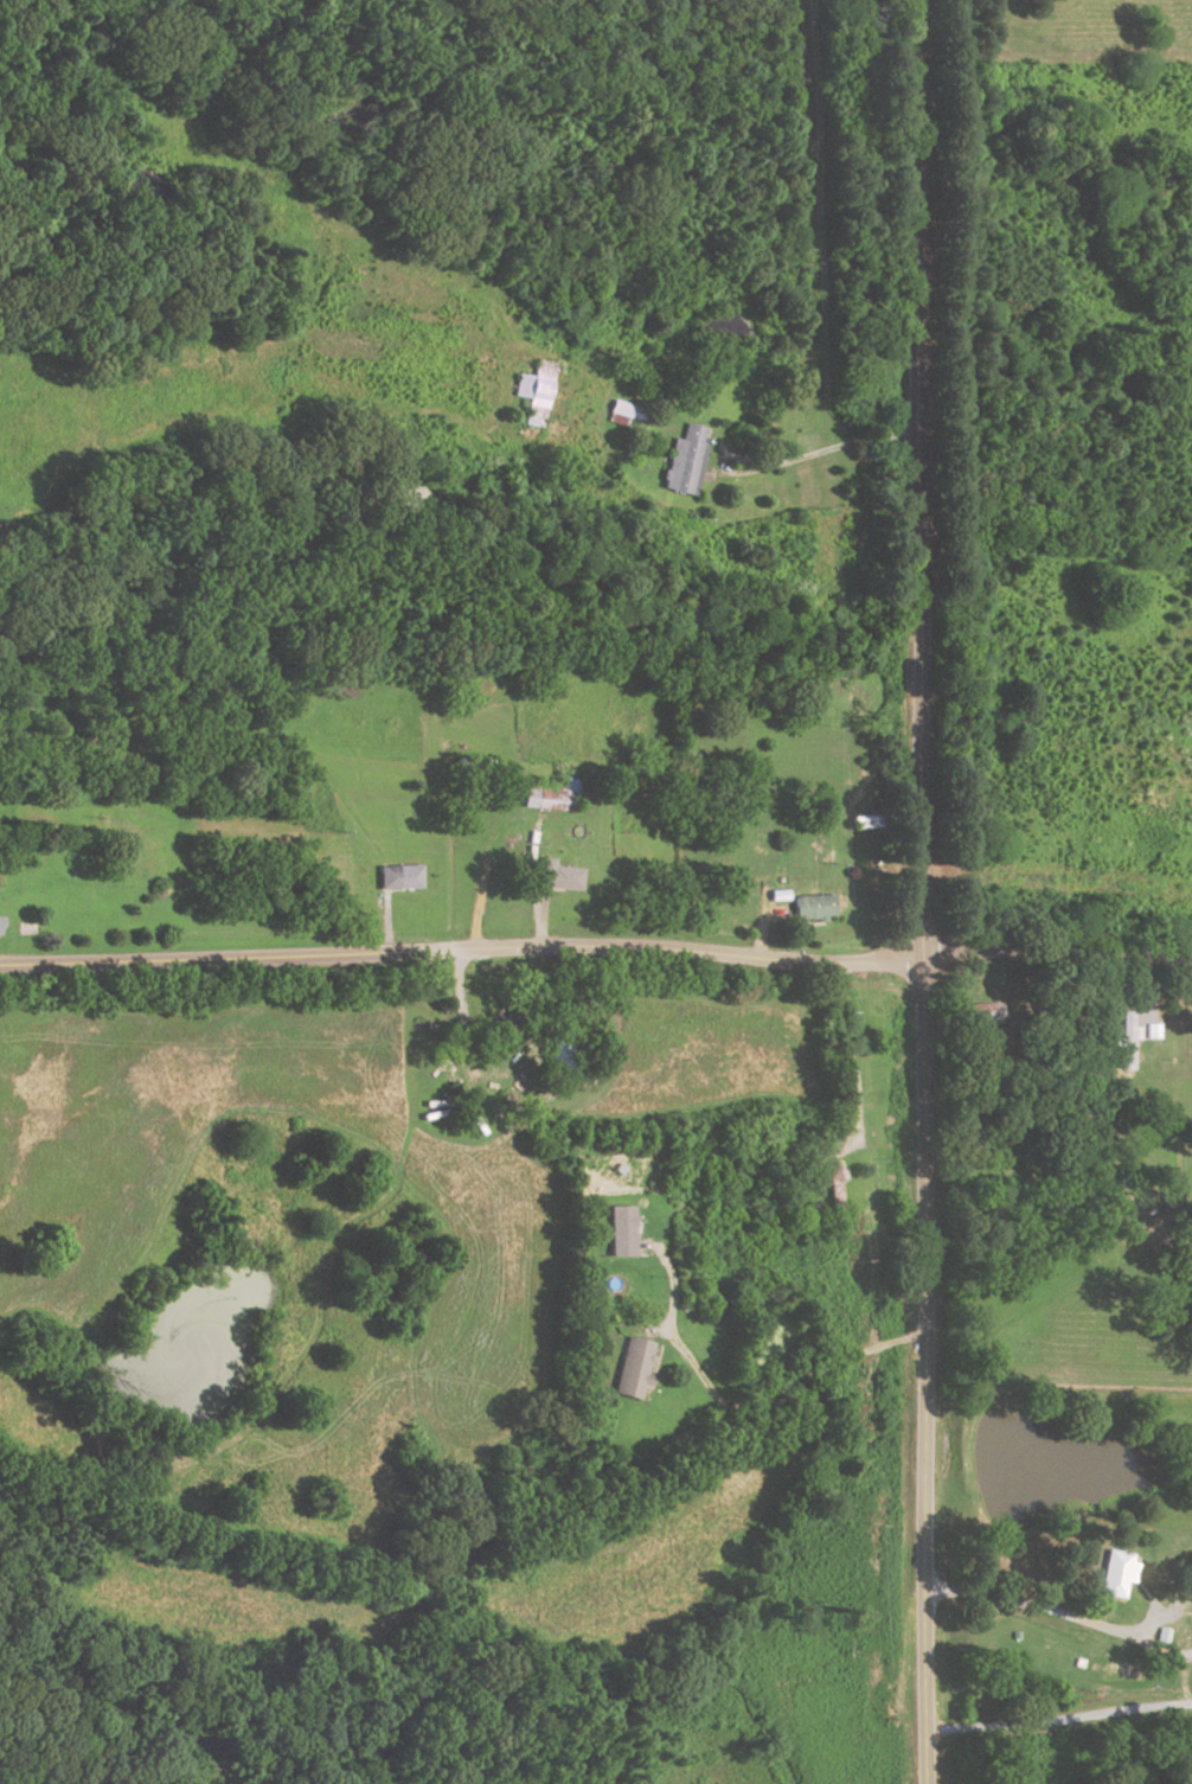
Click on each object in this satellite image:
building: (537, 392)
building: (626, 414)
road: (818, 452)
building: (681, 462)
building: (550, 797)
building: (398, 877)
building: (558, 877)
road: (530, 884)
road: (922, 891)
building: (810, 907)
building: (0, 923)
road: (386, 926)
road: (596, 946)
building: (975, 1012)
building: (1152, 1029)
building: (504, 1031)
building: (1123, 1041)
building: (617, 1232)
building: (628, 1369)
road: (738, 1408)
building: (1113, 1575)
road: (1059, 1614)
road: (1058, 1719)

